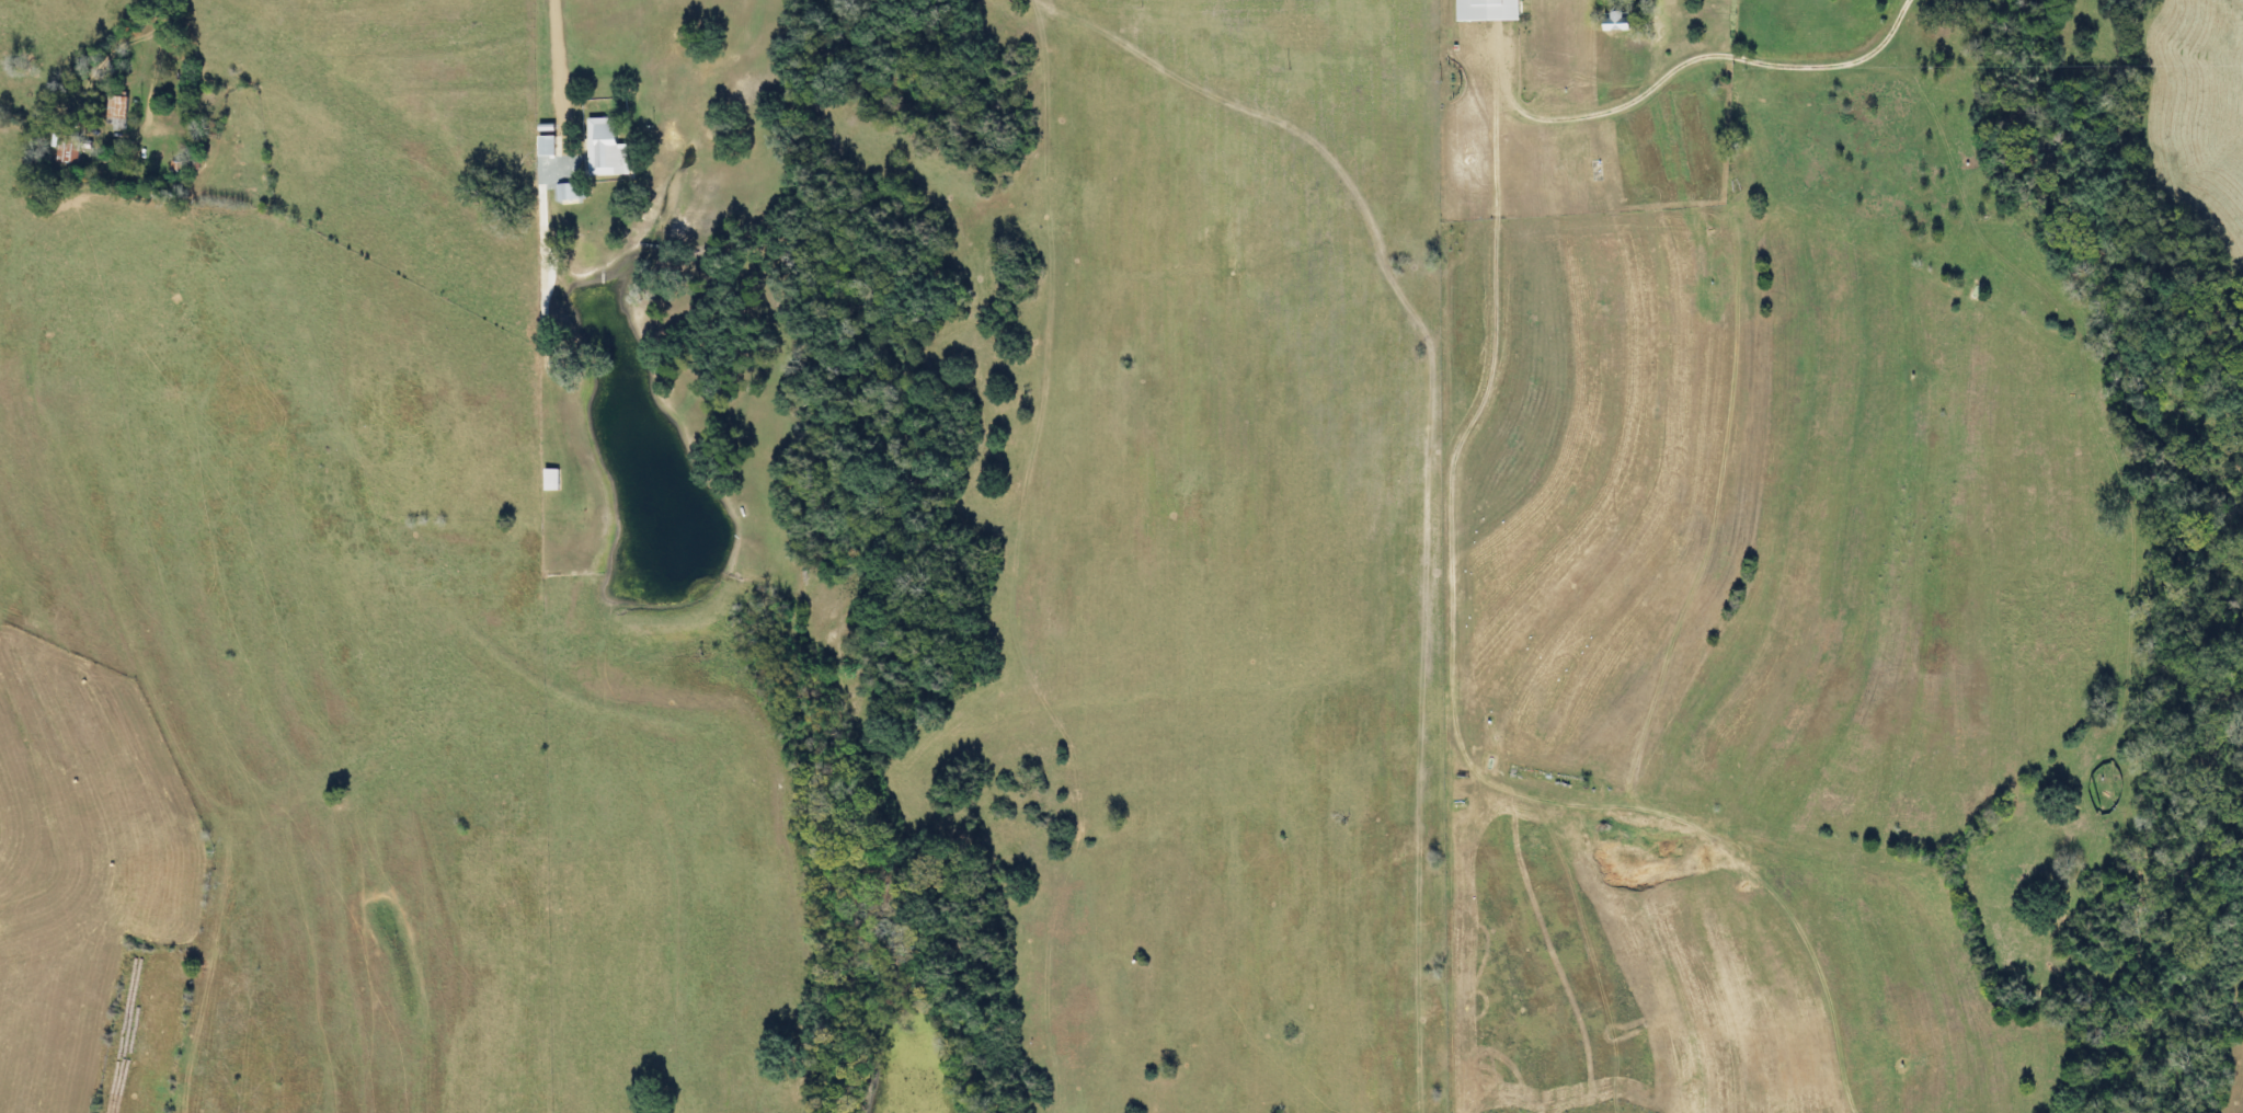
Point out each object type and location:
building: (1716, 1)
road: (2234, 5)
building: (1495, 10)
building: (1625, 20)
road: (559, 93)
road: (152, 96)
building: (123, 112)
building: (550, 146)
building: (610, 148)
building: (75, 150)
building: (575, 192)
building: (557, 480)

